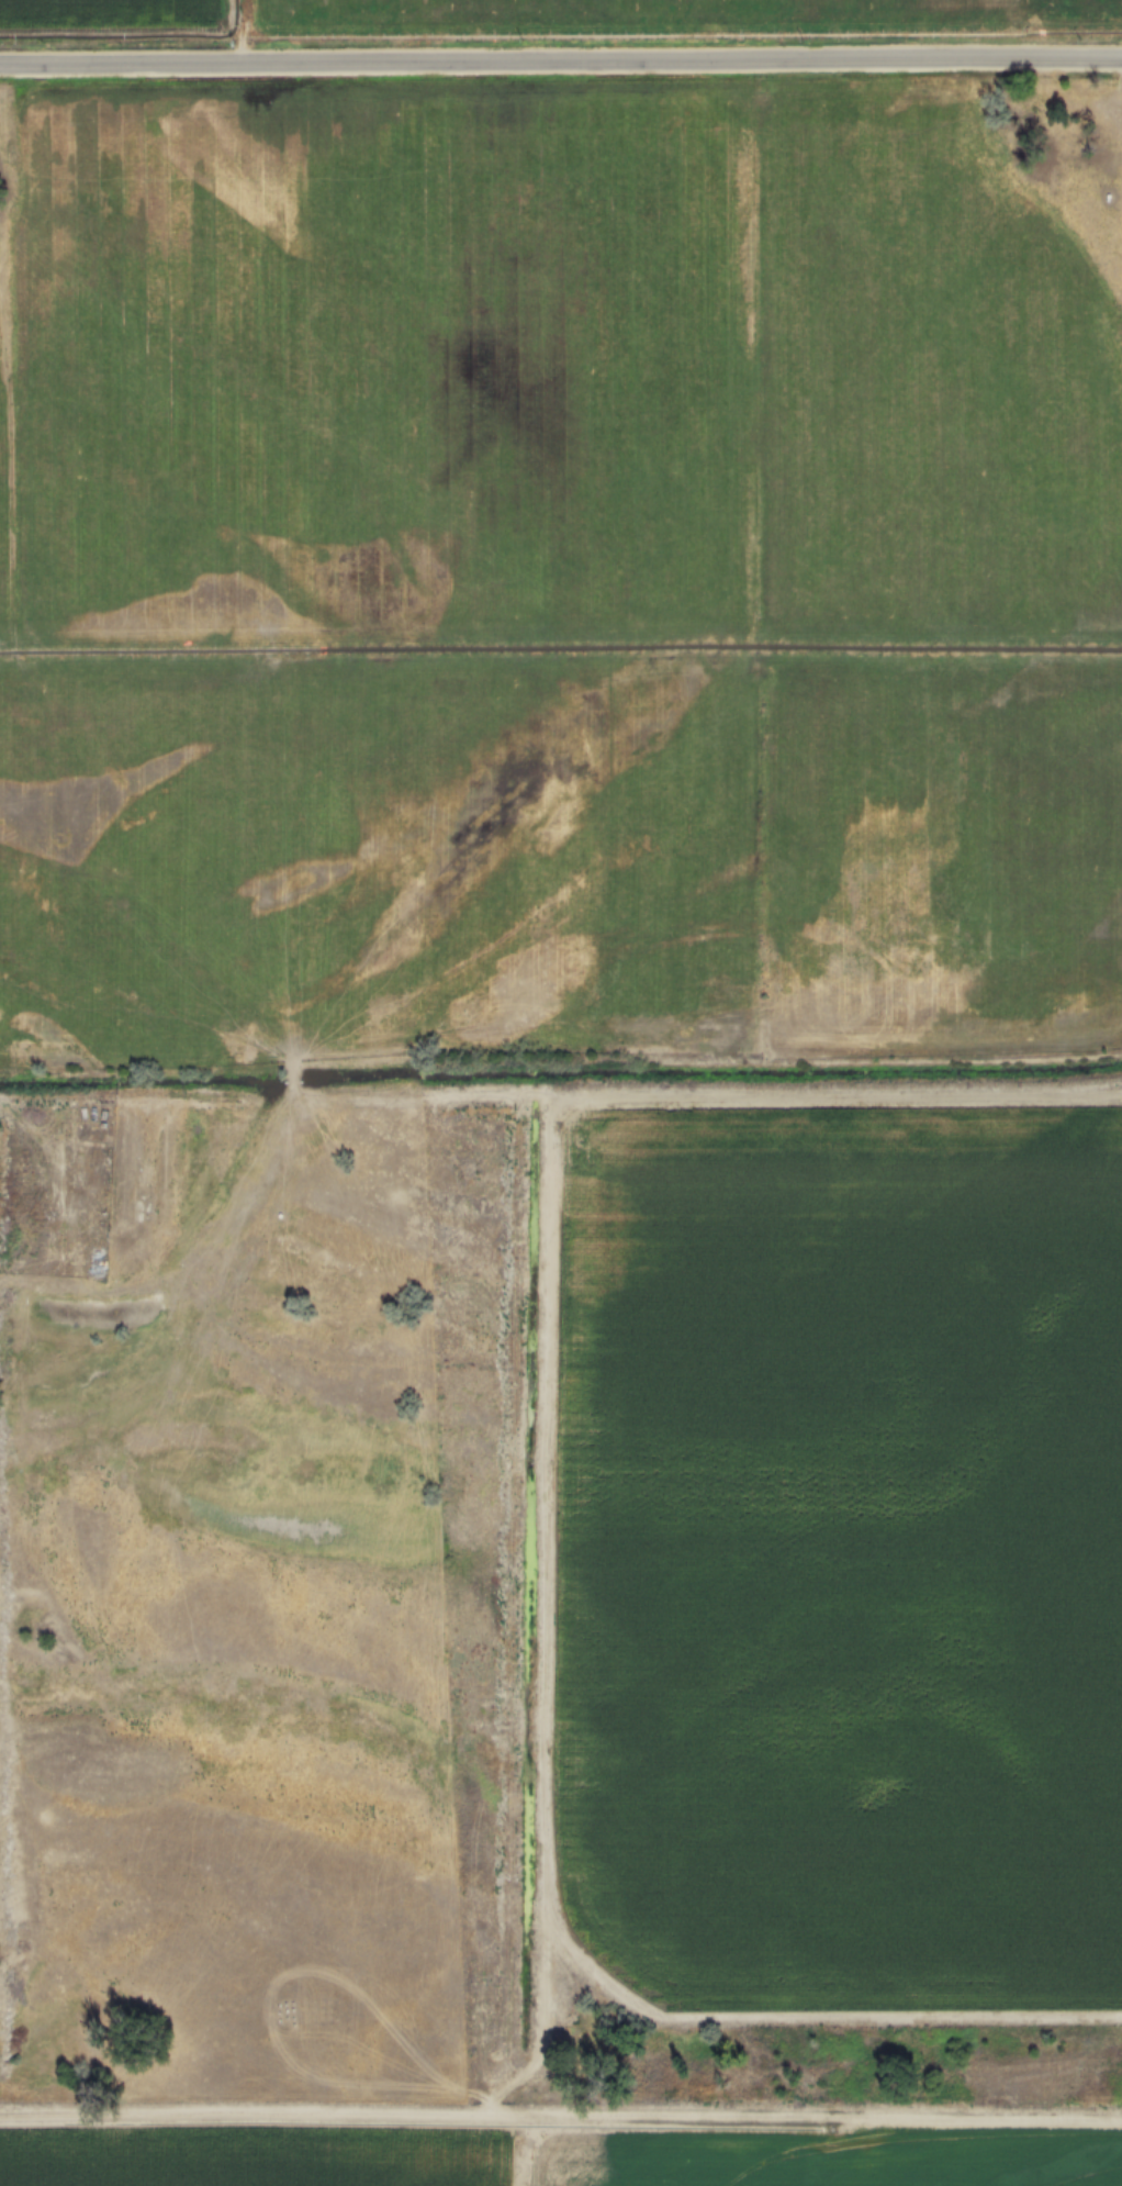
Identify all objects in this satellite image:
road: (560, 63)
building: (97, 1261)

